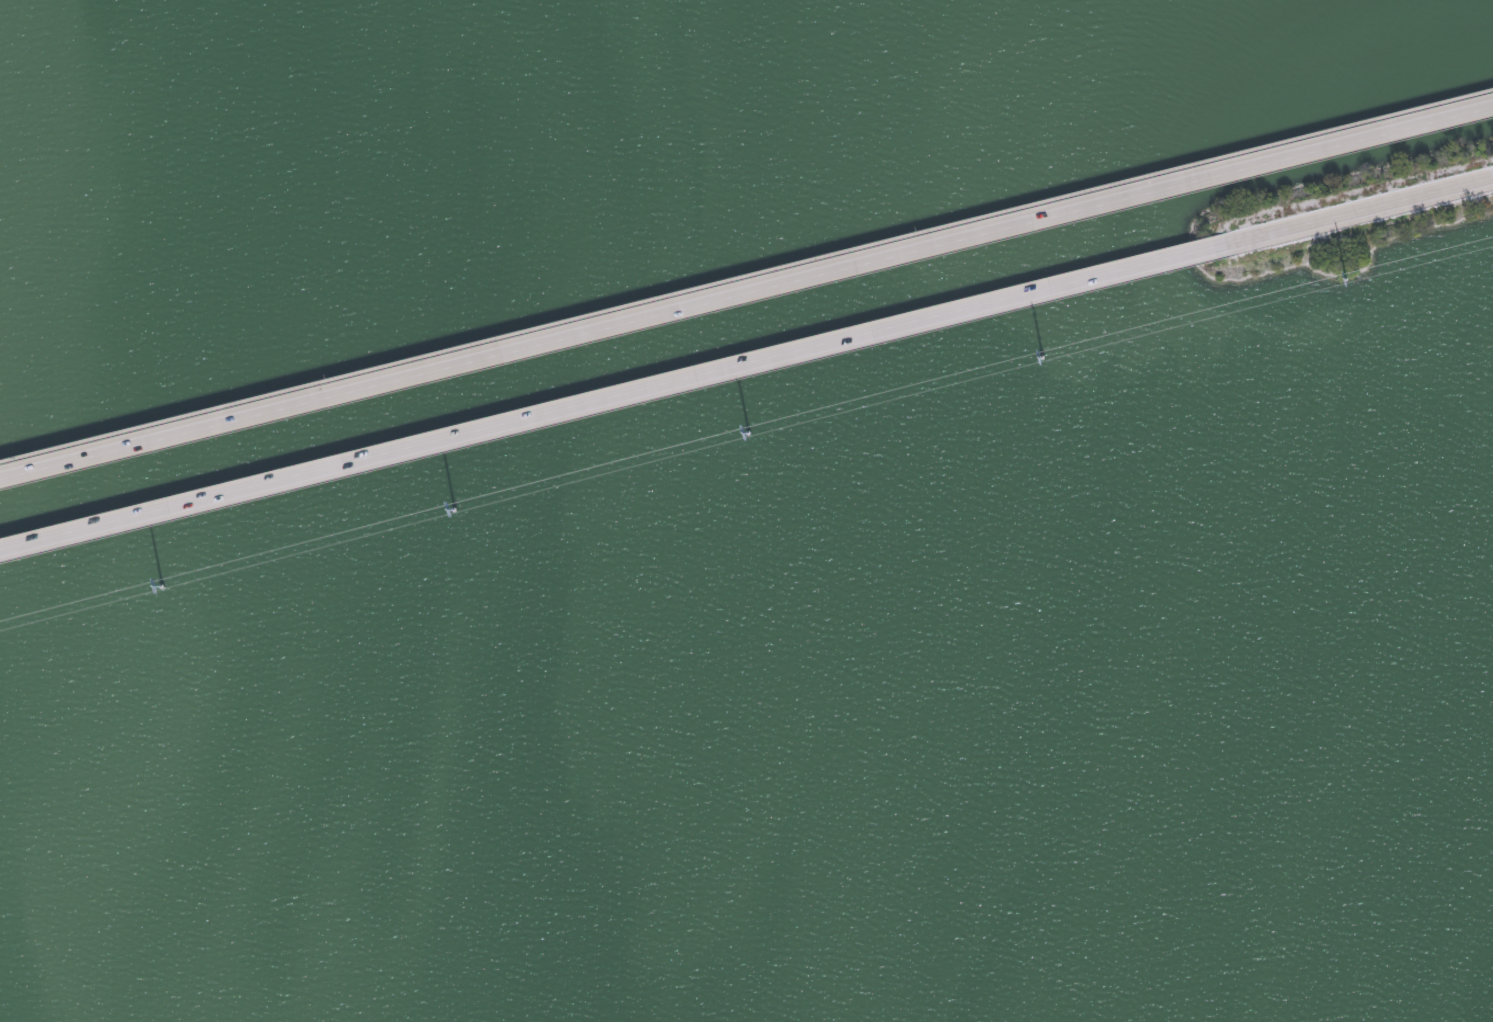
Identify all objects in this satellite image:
road: (1358, 207)
power tower: (1345, 281)
road: (746, 282)
road: (746, 290)
power tower: (1041, 360)
road: (611, 394)
power tower: (748, 435)
power tower: (453, 512)
power tower: (160, 588)

